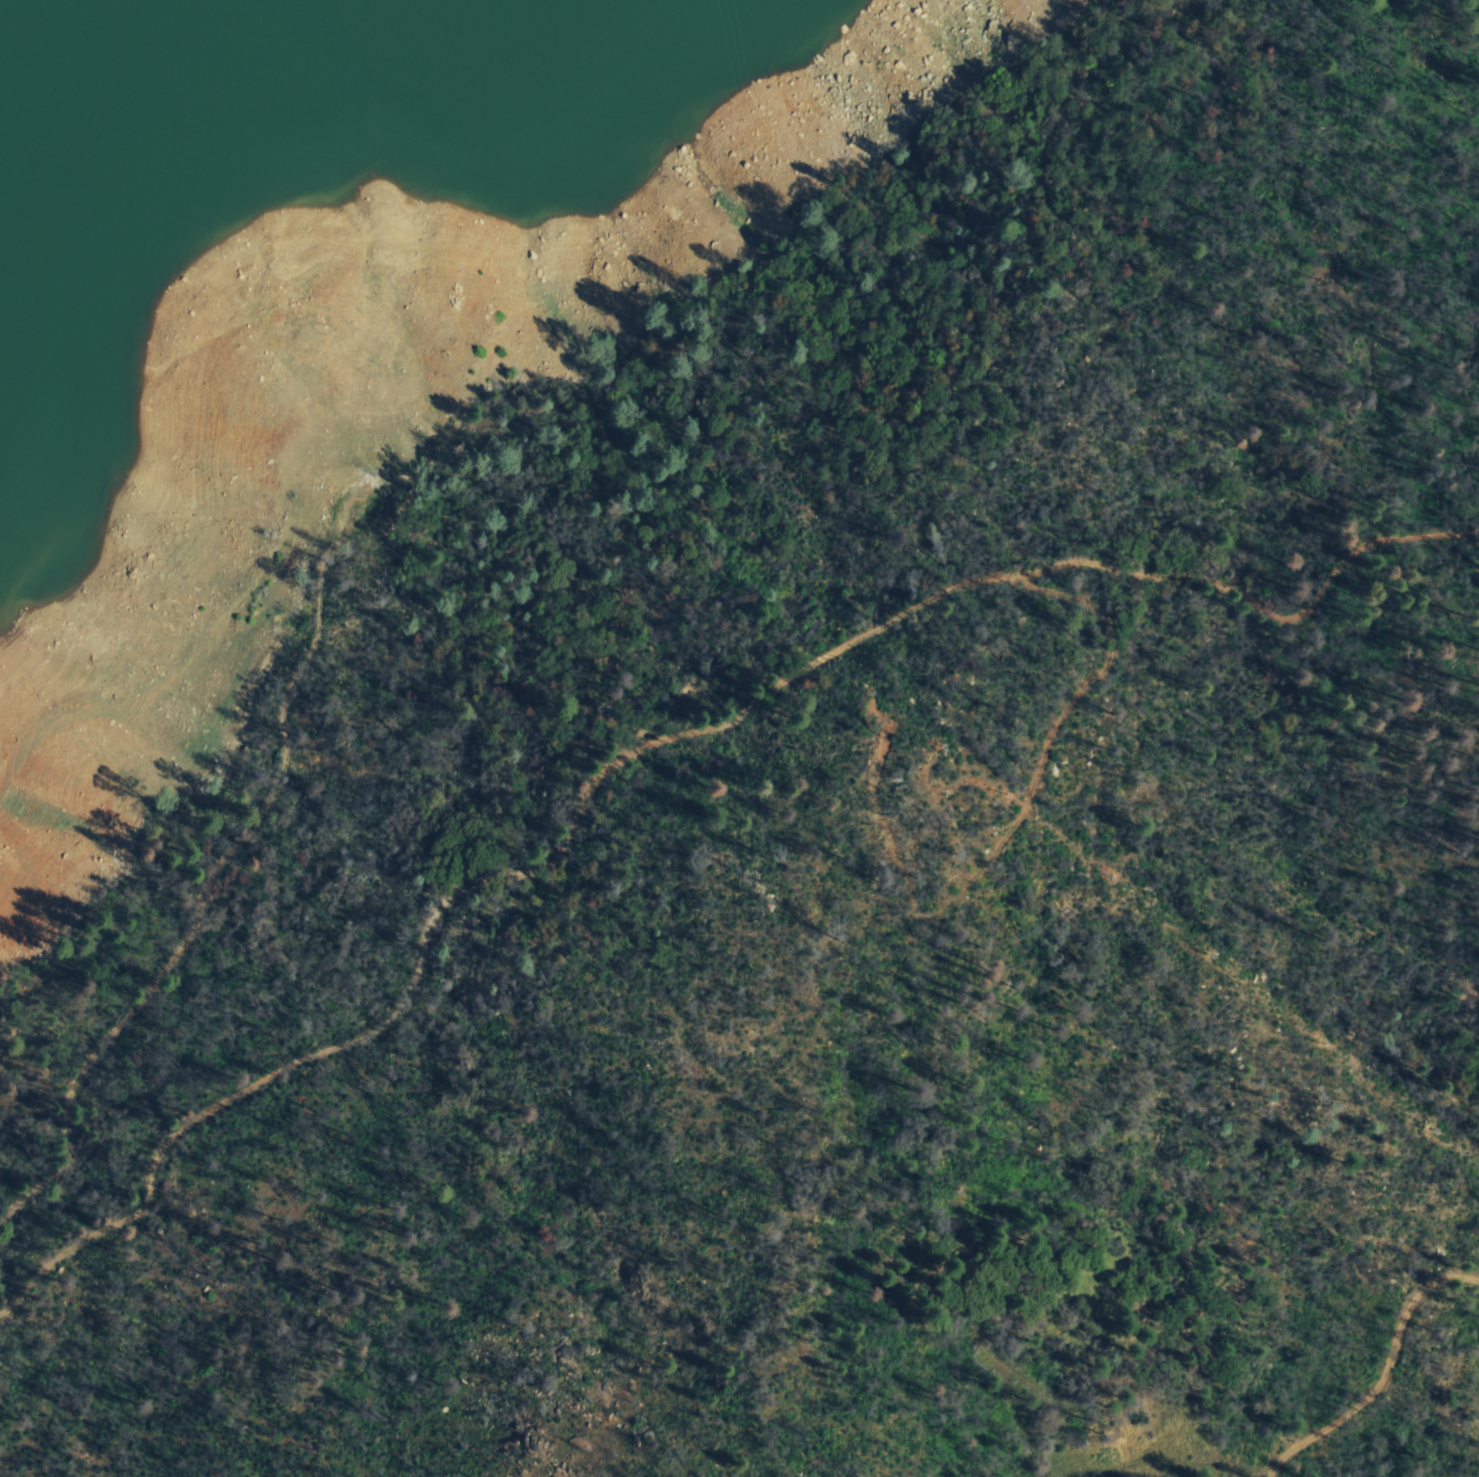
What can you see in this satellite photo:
river: (97, 71)
road: (636, 664)
road: (171, 887)
road: (1379, 1381)

